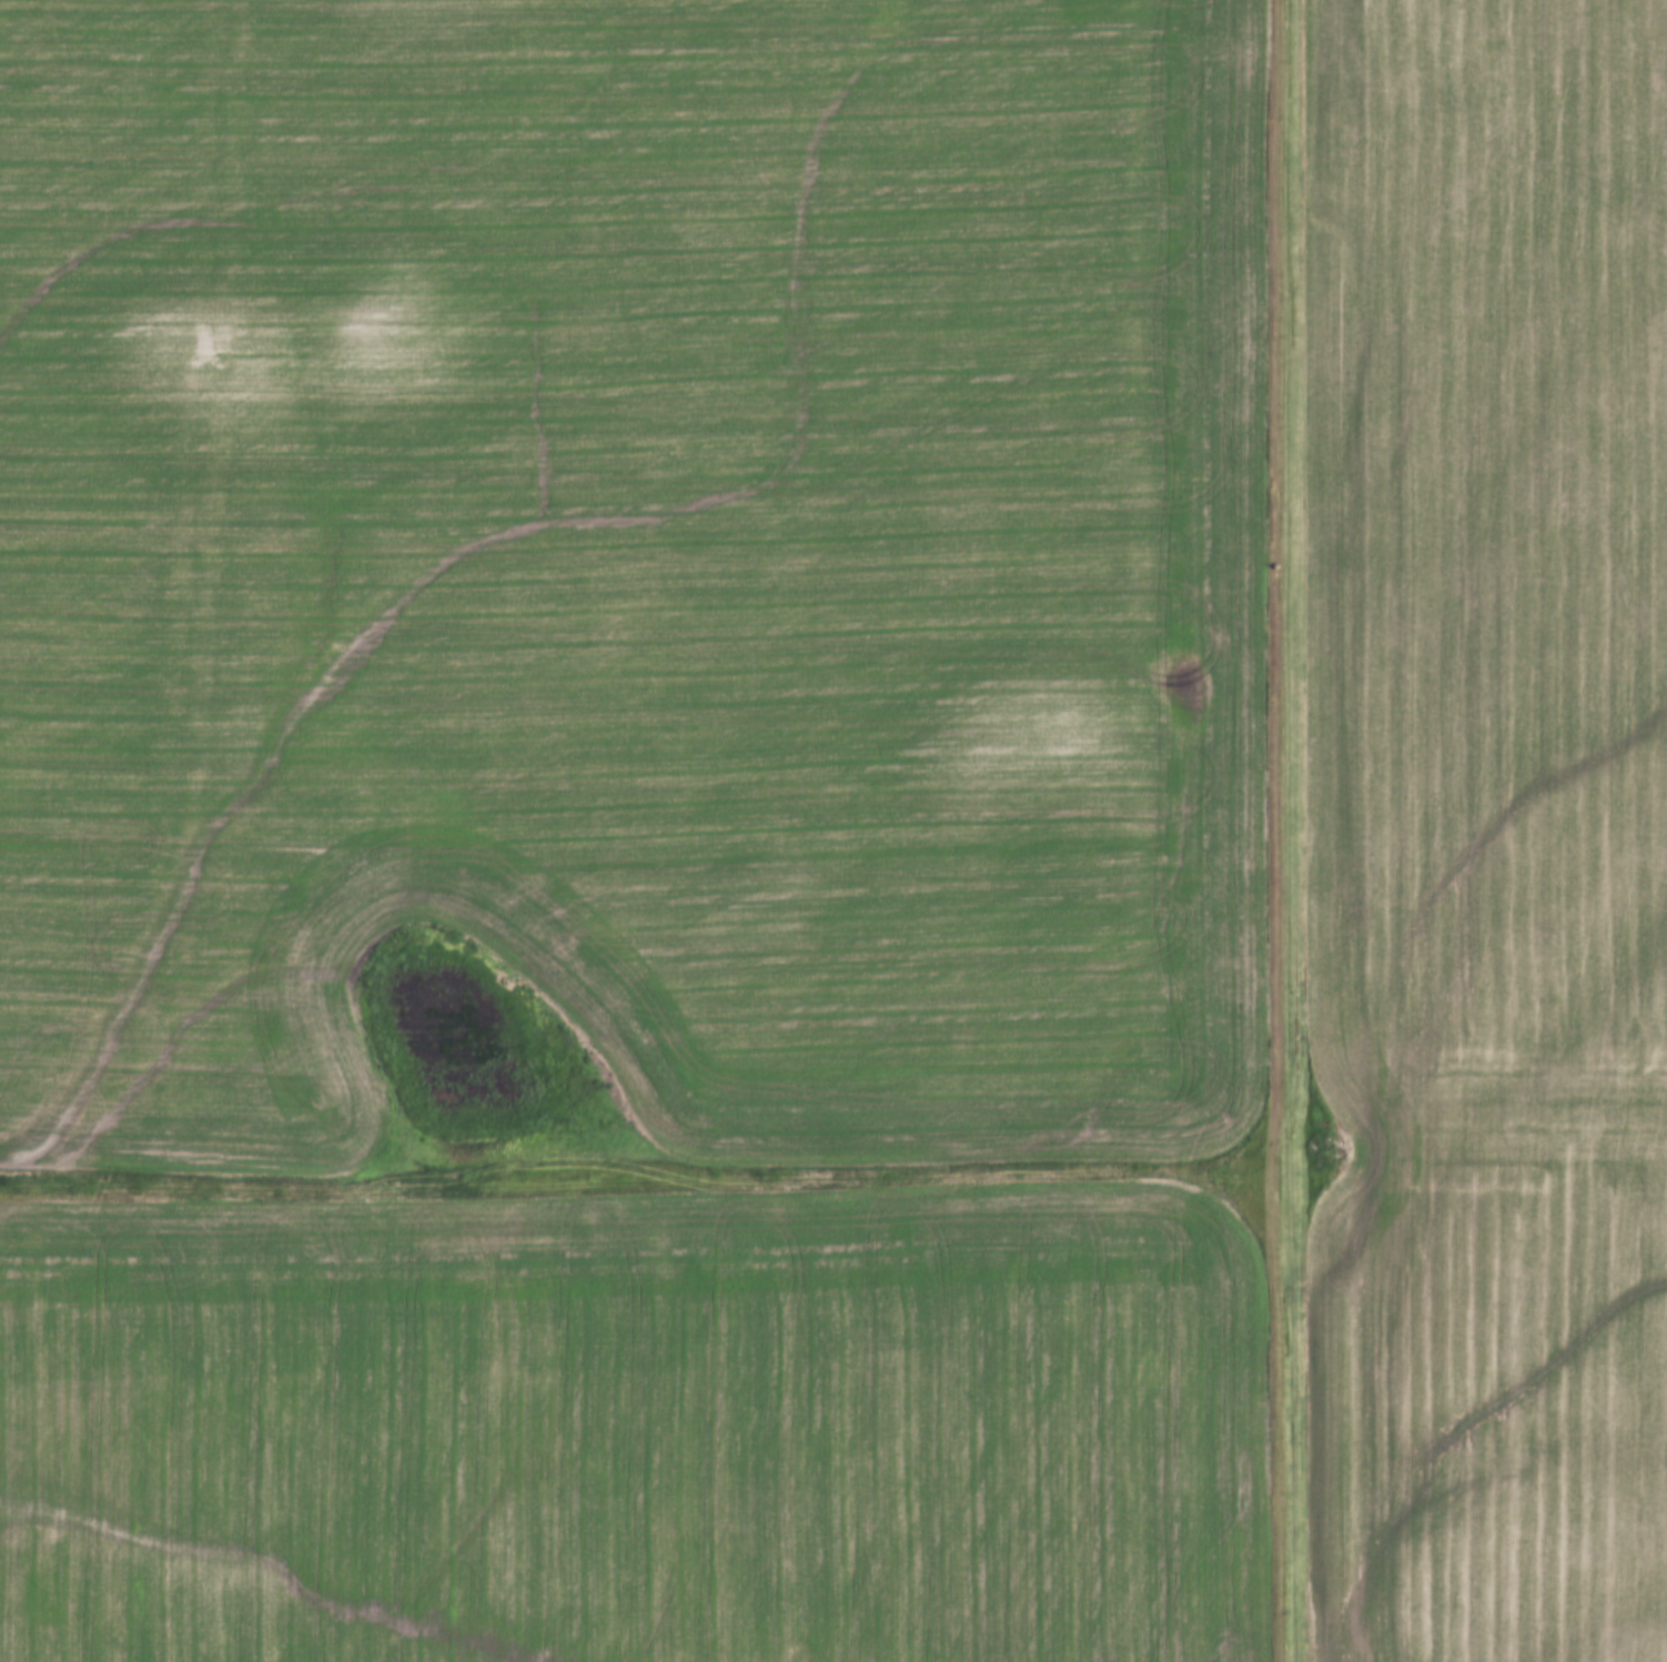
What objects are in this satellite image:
road: (1294, 566)

